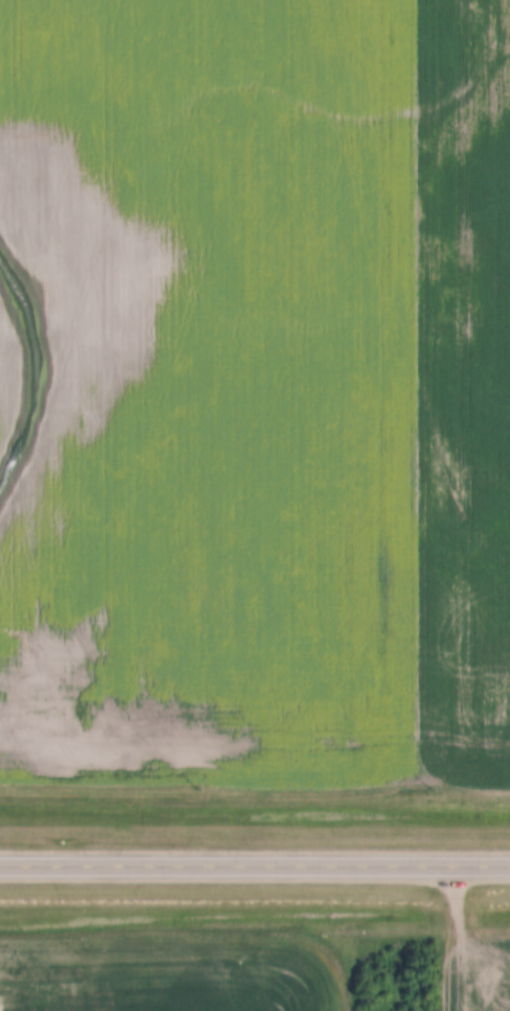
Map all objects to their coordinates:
road: (255, 865)

